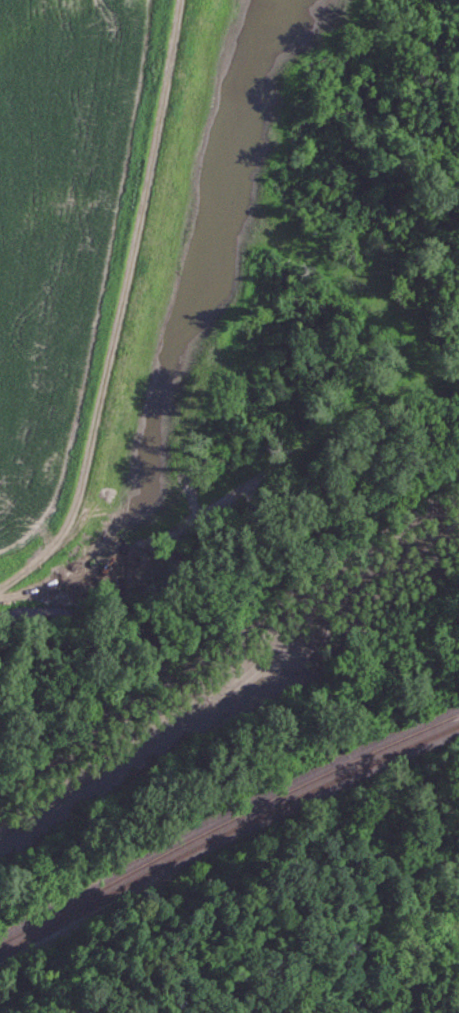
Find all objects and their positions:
railway: (226, 819)
railway: (226, 833)

